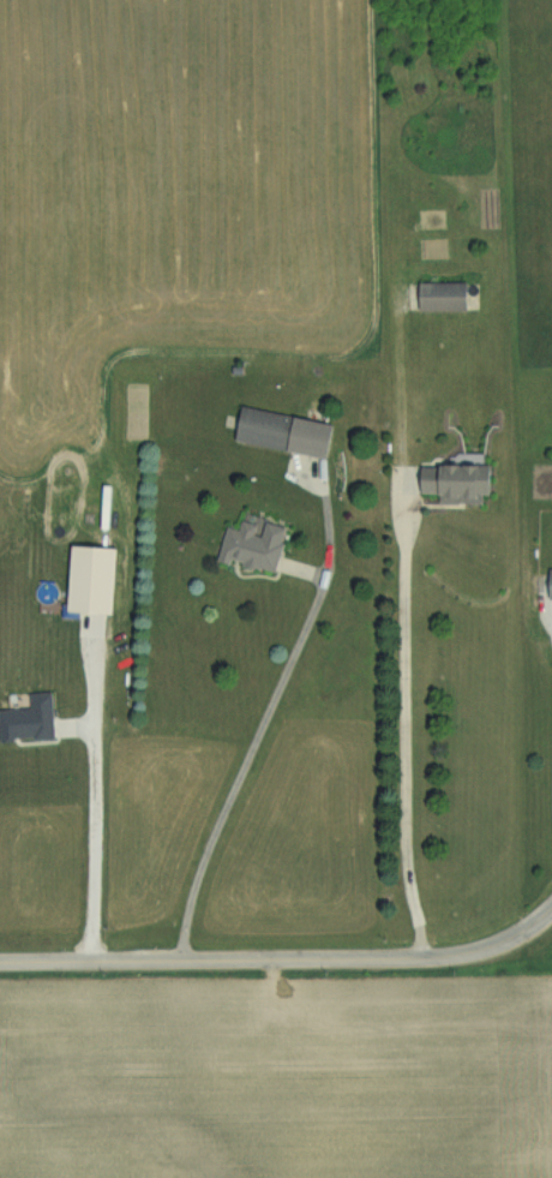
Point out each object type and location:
building: (277, 431)
building: (449, 482)
building: (248, 544)
building: (547, 582)
road: (259, 723)
road: (403, 735)
road: (108, 800)
road: (282, 959)

